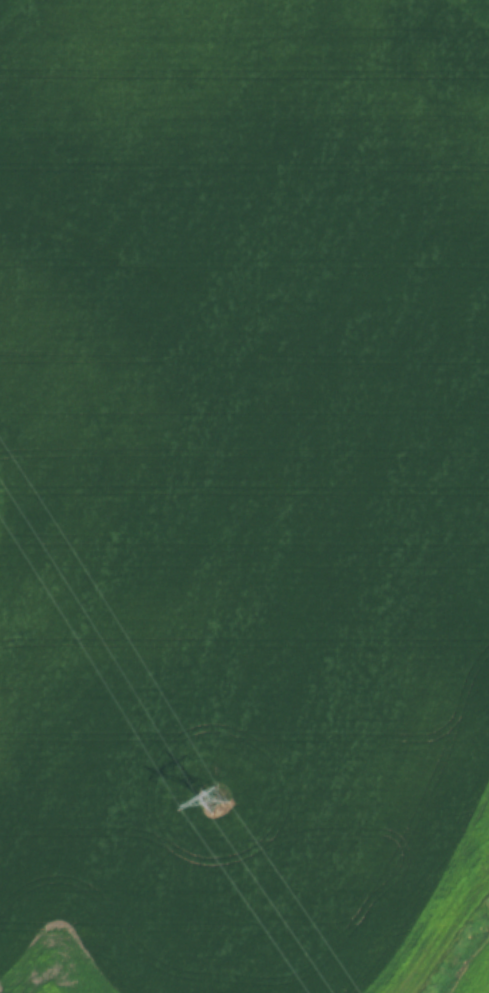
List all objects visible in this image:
power tower: (212, 801)

